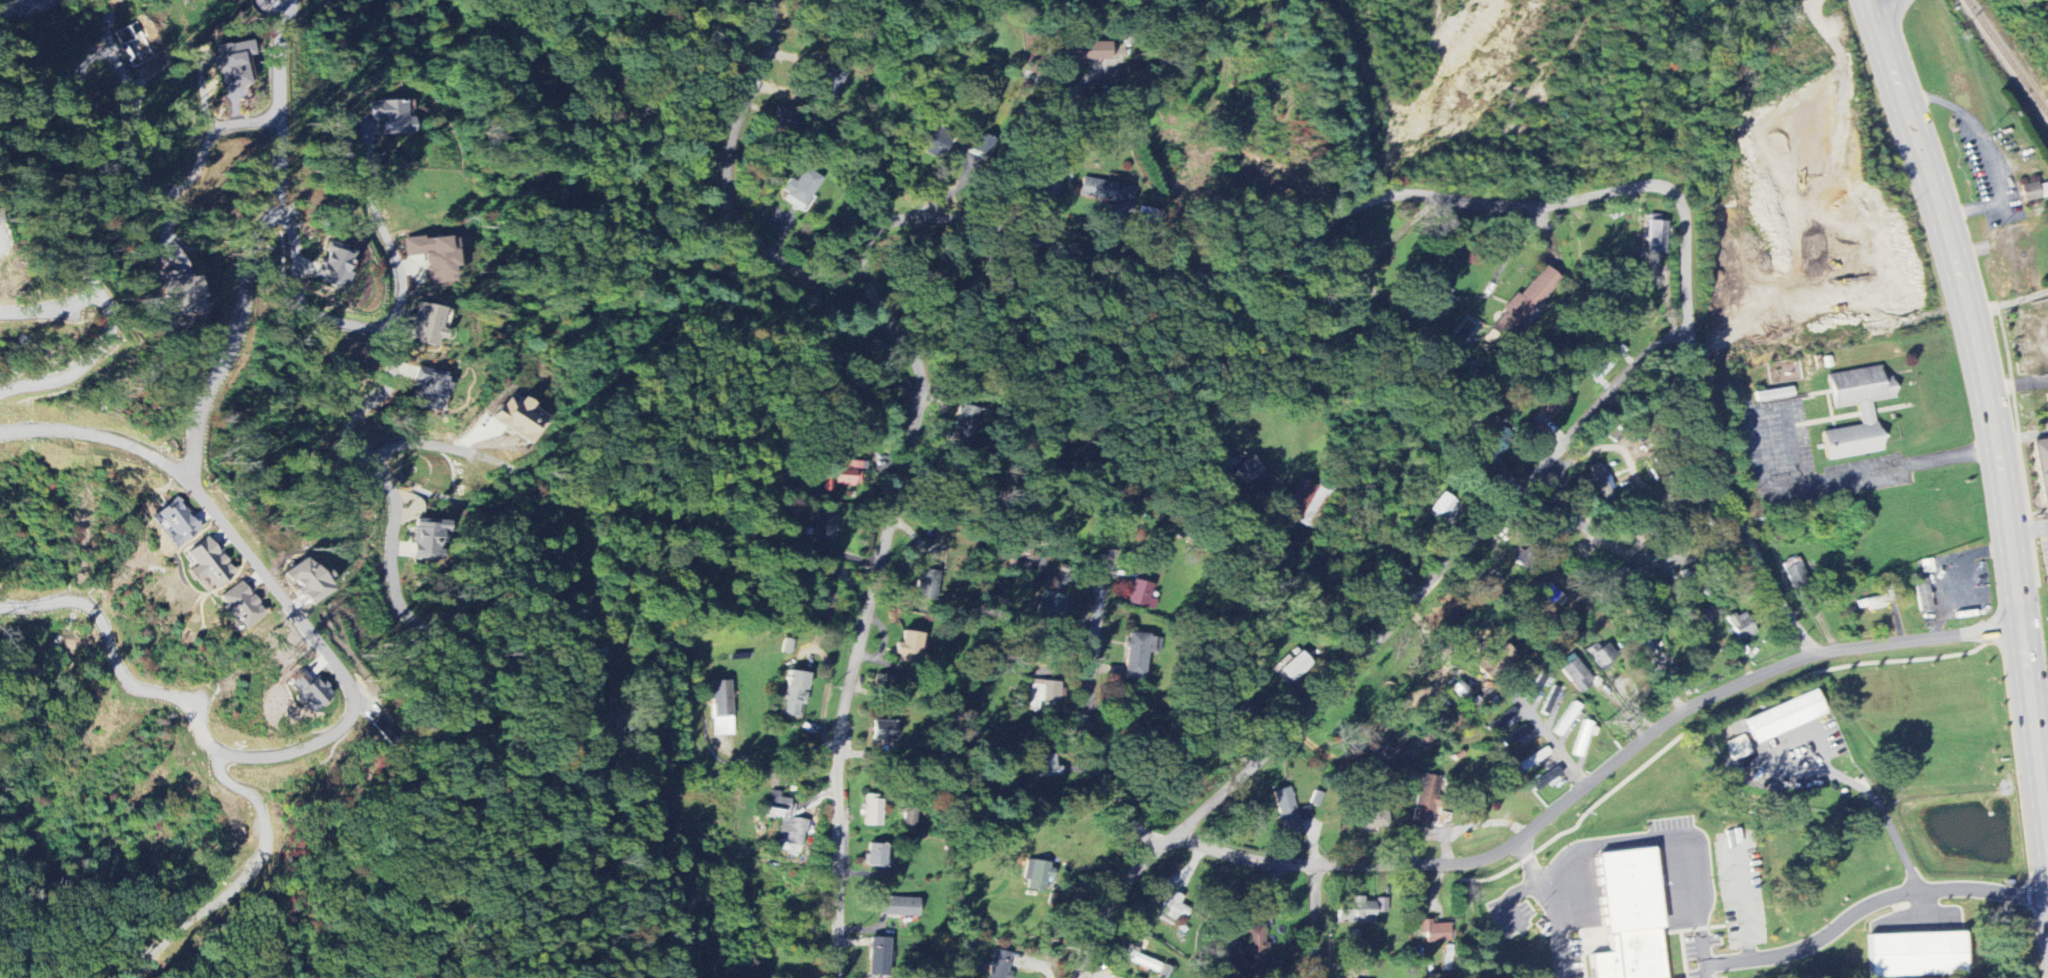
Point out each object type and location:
road: (278, 9)
building: (1082, 52)
railway: (2007, 55)
building: (231, 64)
building: (827, 84)
building: (389, 117)
building: (781, 120)
building: (934, 145)
building: (981, 146)
road: (1060, 163)
road: (741, 181)
road: (151, 189)
building: (801, 190)
building: (1104, 191)
building: (2044, 191)
building: (2030, 193)
road: (372, 199)
building: (1146, 216)
building: (1657, 235)
road: (247, 253)
building: (433, 257)
building: (331, 266)
road: (1143, 268)
road: (401, 288)
building: (179, 294)
building: (1441, 300)
building: (809, 301)
building: (1523, 304)
building: (427, 325)
building: (1605, 362)
road: (2017, 383)
building: (426, 390)
building: (1773, 392)
building: (1553, 402)
road: (1991, 415)
building: (1865, 416)
building: (517, 420)
building: (964, 429)
road: (2021, 435)
road: (413, 442)
building: (1497, 442)
road: (342, 447)
building: (2043, 465)
building: (848, 473)
building: (1249, 473)
road: (1646, 487)
building: (1302, 502)
building: (1445, 509)
building: (175, 523)
building: (825, 526)
road: (2027, 527)
road: (1598, 535)
building: (426, 540)
building: (206, 565)
building: (1927, 566)
building: (1794, 571)
building: (1619, 578)
building: (305, 583)
building: (927, 586)
building: (1139, 594)
building: (1552, 596)
building: (1924, 598)
building: (823, 604)
building: (237, 607)
building: (1048, 607)
road: (1100, 613)
building: (1741, 626)
road: (1374, 642)
building: (908, 649)
building: (1136, 655)
building: (1599, 656)
road: (331, 659)
building: (1496, 661)
building: (1296, 668)
building: (1574, 673)
building: (885, 686)
building: (1535, 688)
building: (308, 692)
building: (1043, 694)
building: (793, 695)
road: (2038, 699)
building: (721, 709)
building: (1785, 716)
building: (1566, 719)
building: (1501, 720)
building: (611, 731)
building: (884, 731)
road: (1548, 733)
building: (1514, 736)
building: (1583, 738)
building: (1739, 748)
parking lot: (1776, 754)
building: (1534, 759)
building: (1046, 767)
road: (718, 771)
building: (1545, 779)
road: (1585, 783)
building: (1425, 800)
building: (1286, 810)
building: (872, 811)
road: (1879, 813)
building: (1374, 819)
building: (786, 820)
road: (1673, 843)
building: (875, 855)
road: (1531, 864)
building: (1036, 875)
road: (1983, 895)
building: (1381, 906)
building: (899, 907)
building: (1170, 908)
building: (1356, 912)
building: (1629, 917)
road: (1315, 924)
road: (1565, 930)
building: (1436, 932)
road: (1815, 940)
building: (1915, 955)
building: (878, 957)
building: (1248, 957)
parking lot: (1721, 959)
building: (1138, 960)
building: (998, 965)

